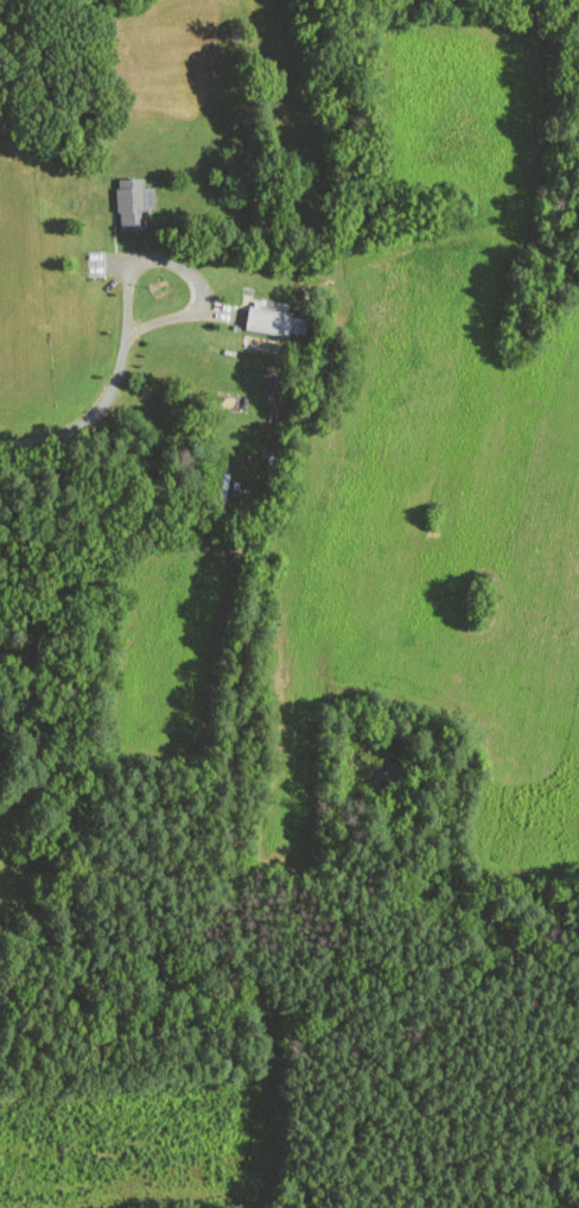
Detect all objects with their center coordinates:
building: (136, 205)
road: (184, 268)
building: (278, 323)
road: (87, 418)

